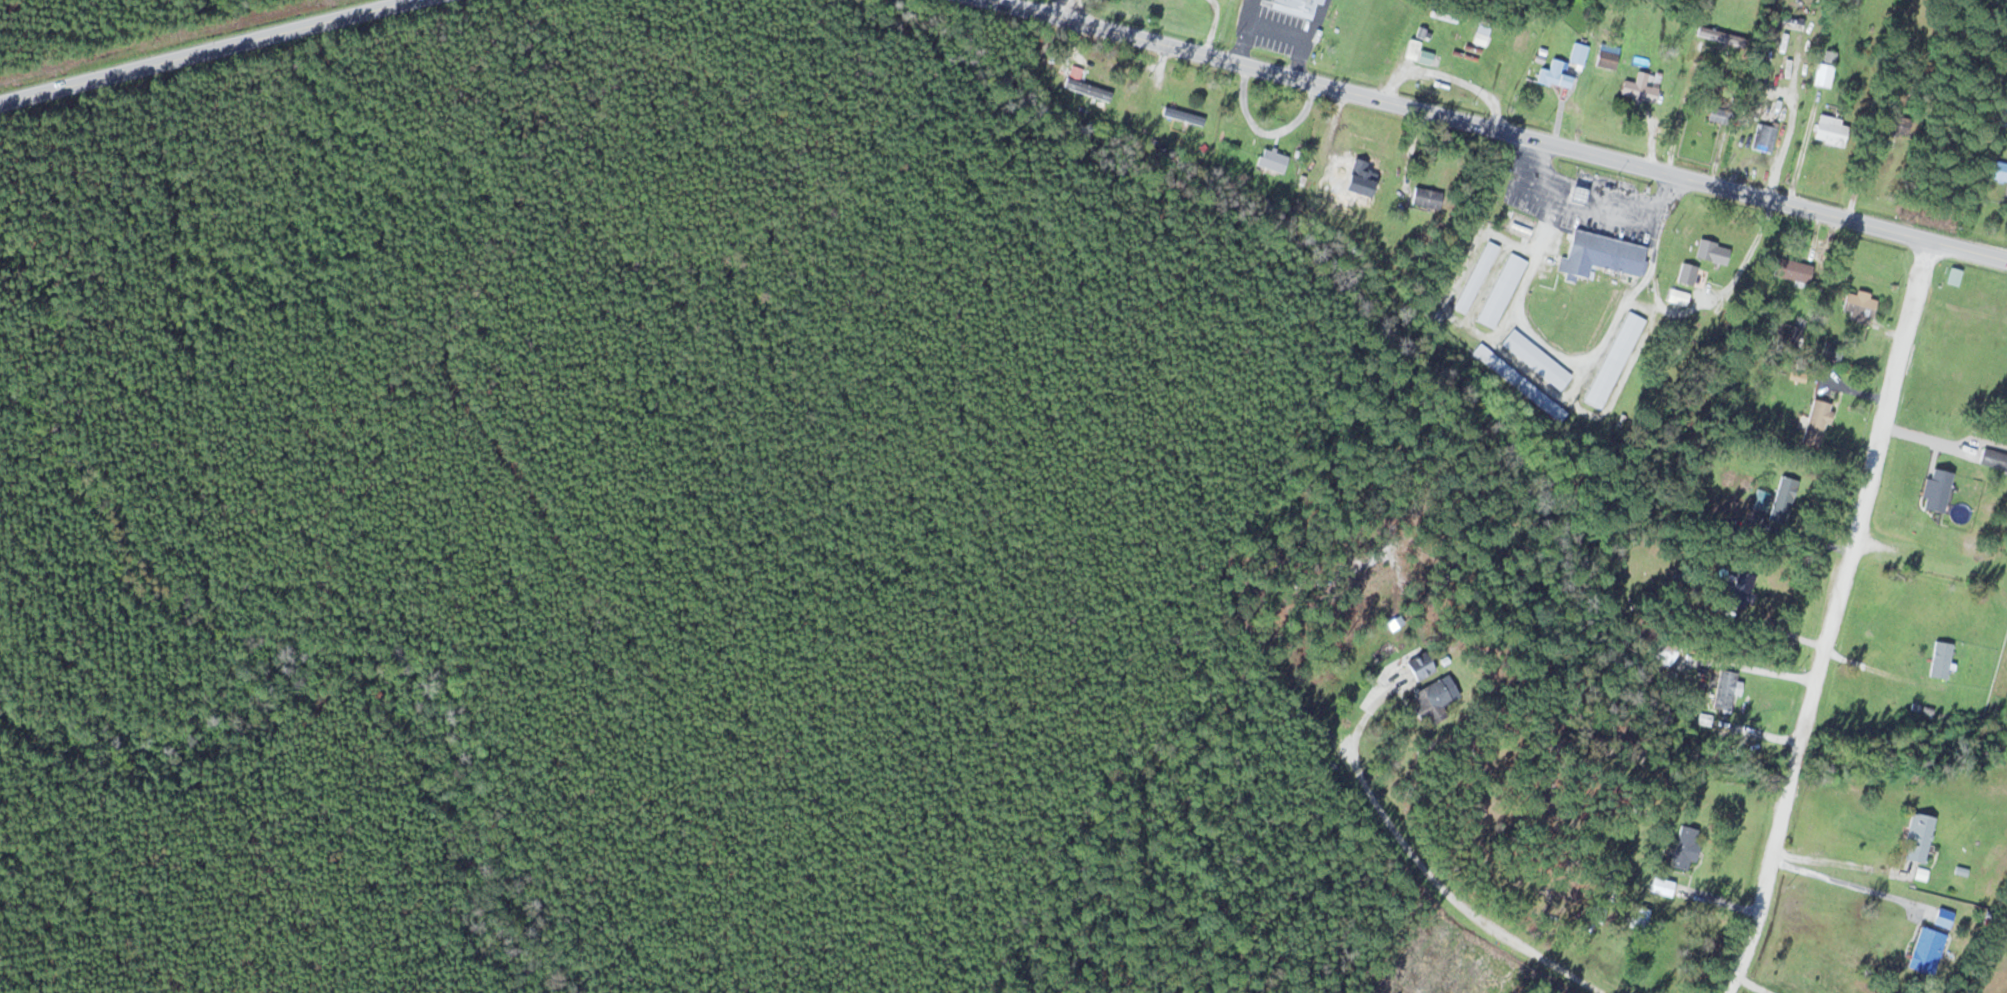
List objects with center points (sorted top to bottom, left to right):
building: (1296, 6)
building: (1411, 50)
building: (1607, 51)
road: (213, 53)
building: (1578, 53)
building: (1424, 56)
road: (1432, 65)
building: (1553, 76)
building: (1084, 87)
building: (1641, 90)
building: (1716, 114)
building: (1180, 115)
building: (1829, 132)
road: (1521, 134)
building: (1763, 137)
building: (1271, 160)
building: (1358, 170)
building: (1424, 198)
building: (1711, 252)
building: (1601, 255)
building: (1791, 271)
building: (1686, 274)
building: (1475, 276)
building: (1500, 289)
building: (1857, 306)
building: (1535, 359)
building: (1518, 382)
building: (1816, 422)
building: (1993, 459)
building: (1781, 498)
road: (1932, 563)
building: (1737, 589)
road: (1835, 615)
building: (1939, 659)
building: (1418, 665)
building: (1723, 689)
building: (1427, 706)
building: (1916, 837)
building: (1682, 847)
building: (1963, 861)
road: (776, 870)
building: (1659, 886)
road: (1442, 899)
building: (1637, 918)
building: (1925, 950)

